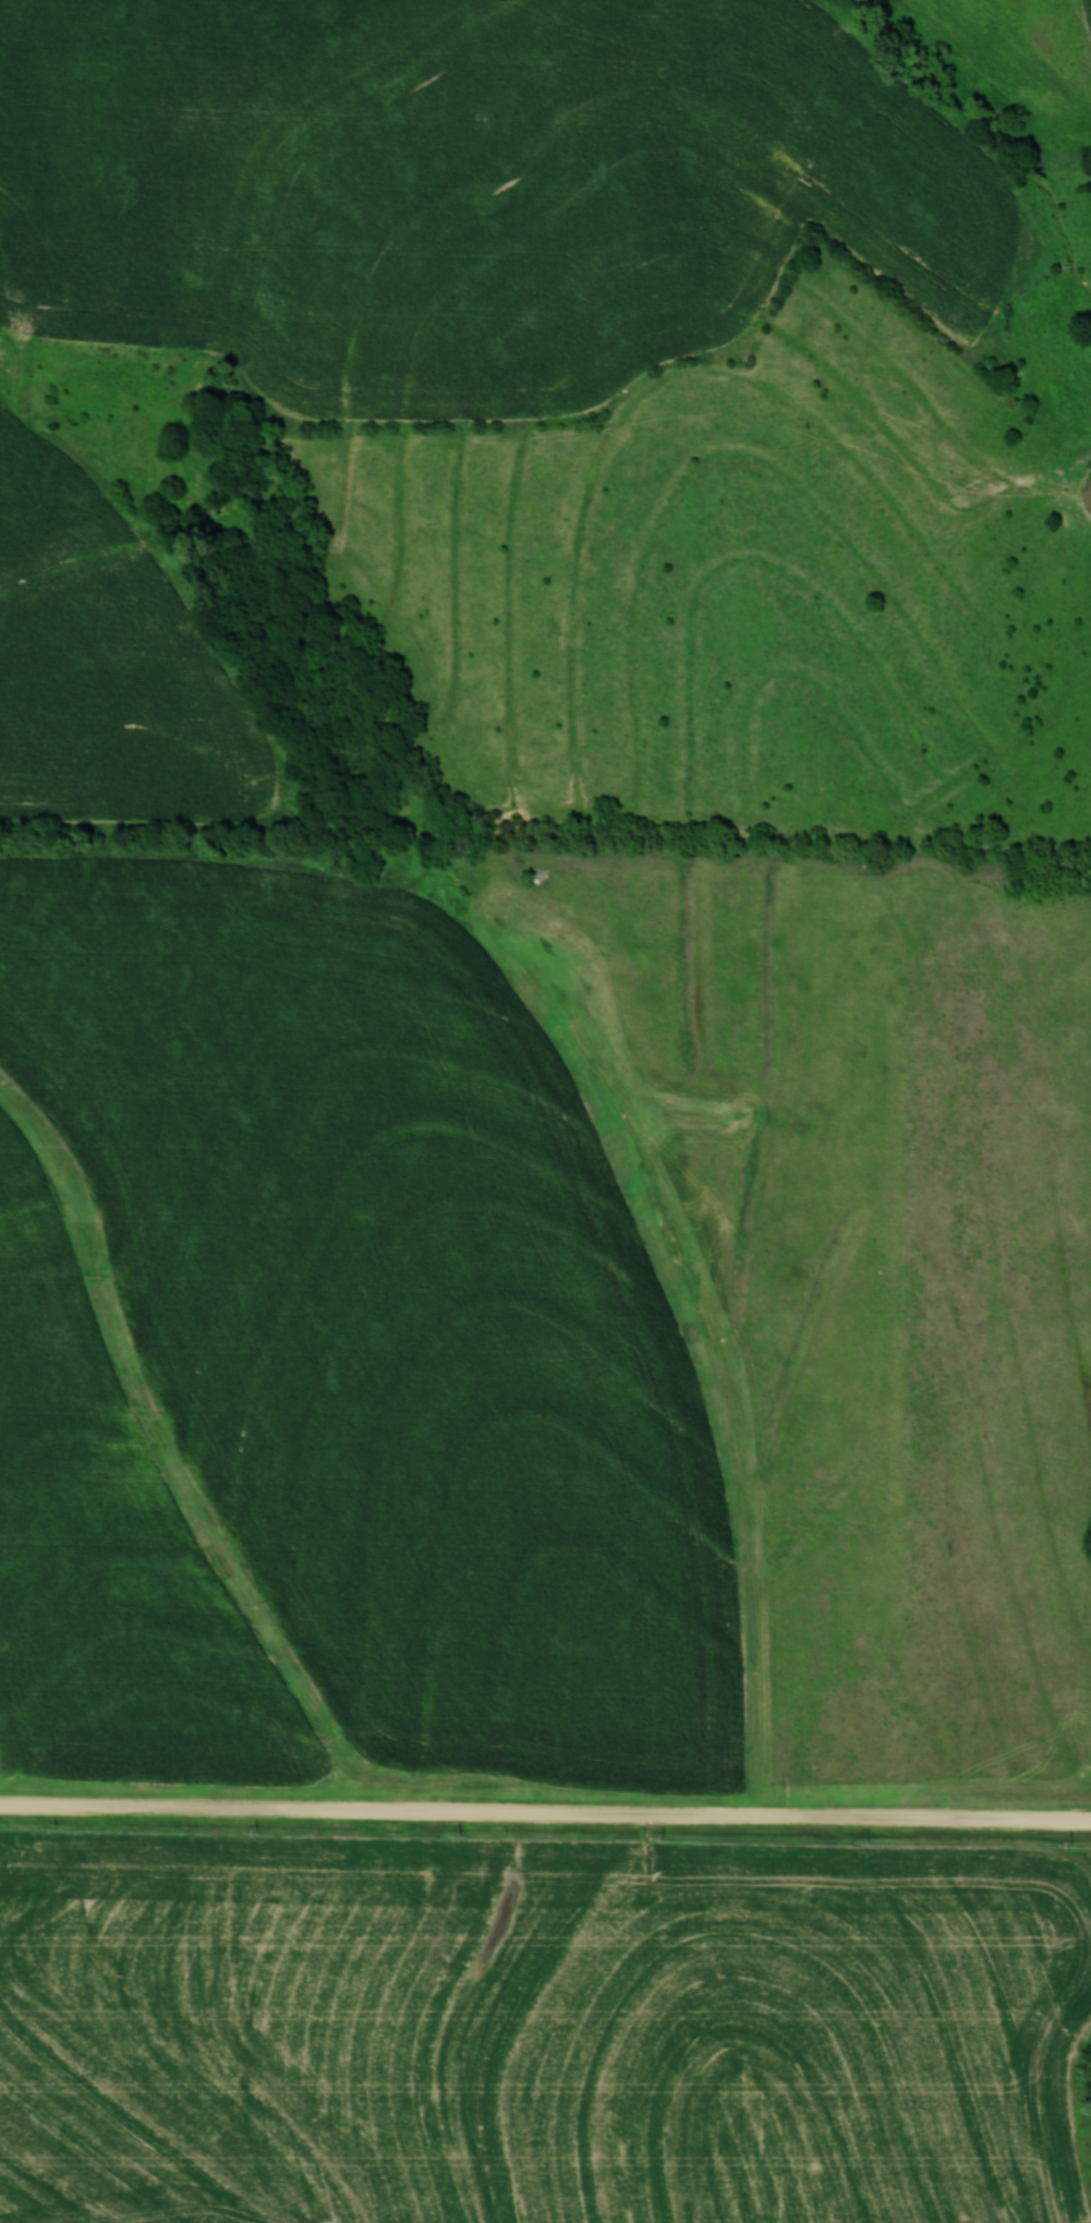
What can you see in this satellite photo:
road: (545, 1817)

